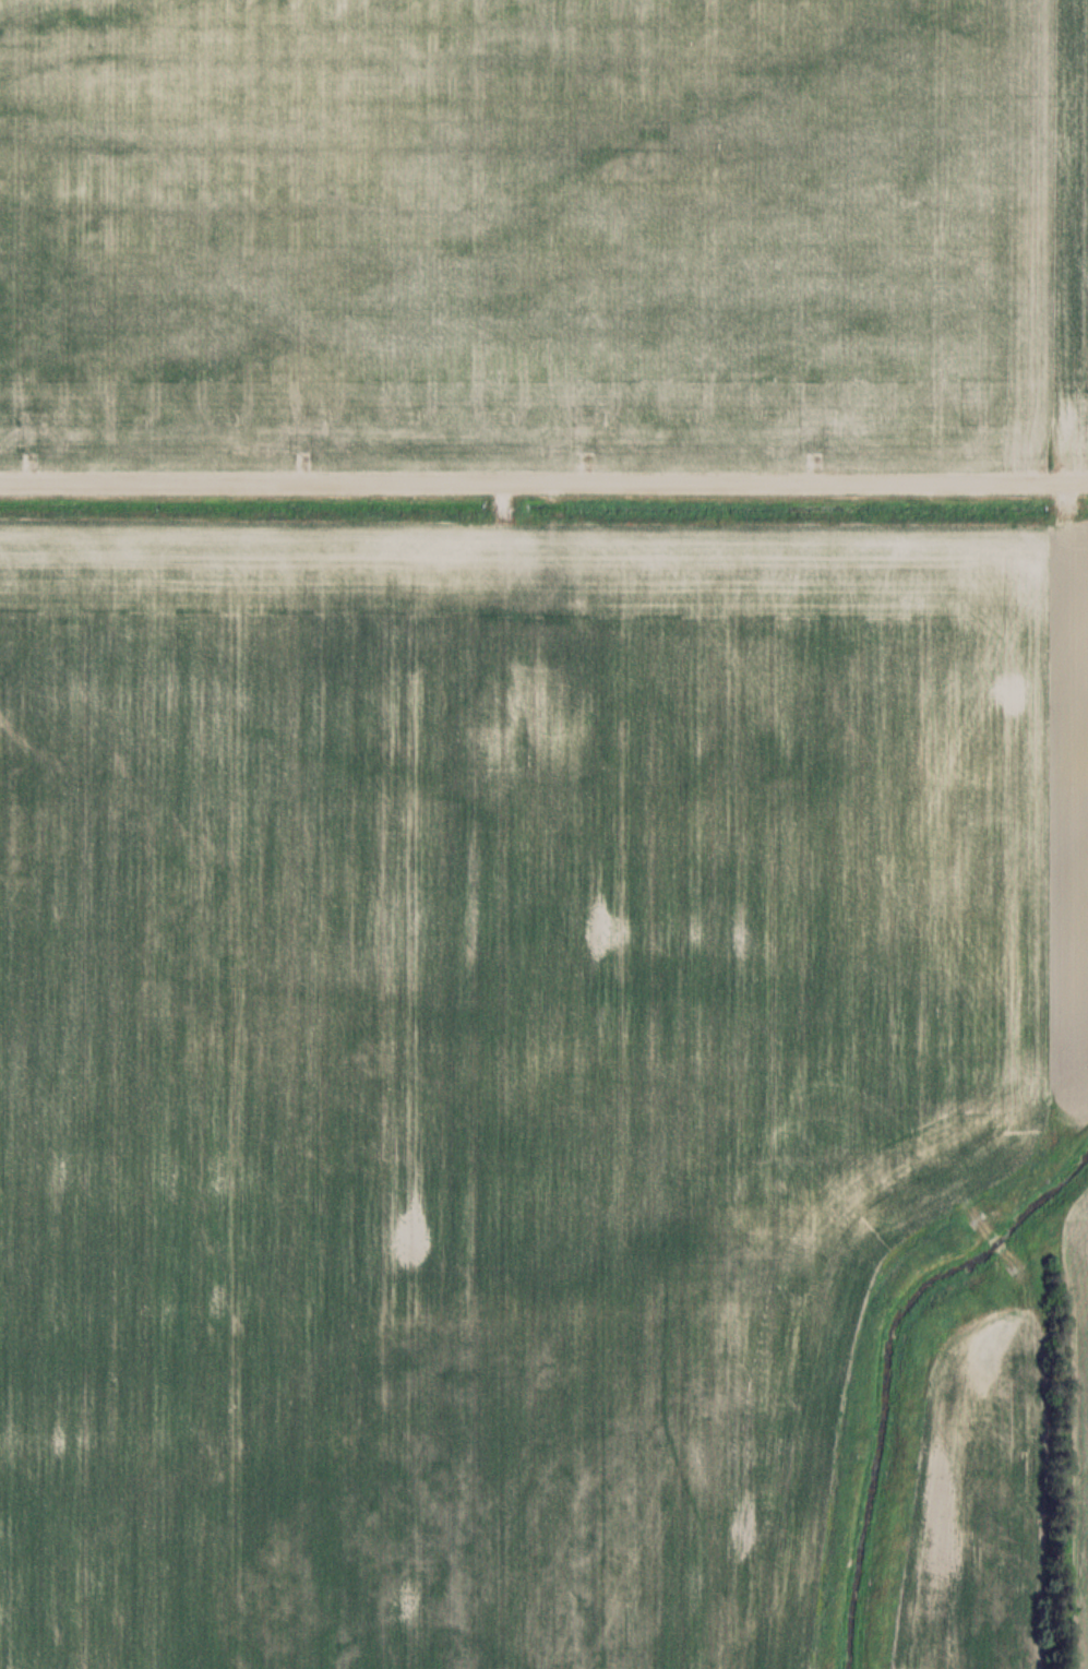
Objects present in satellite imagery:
road: (543, 481)

